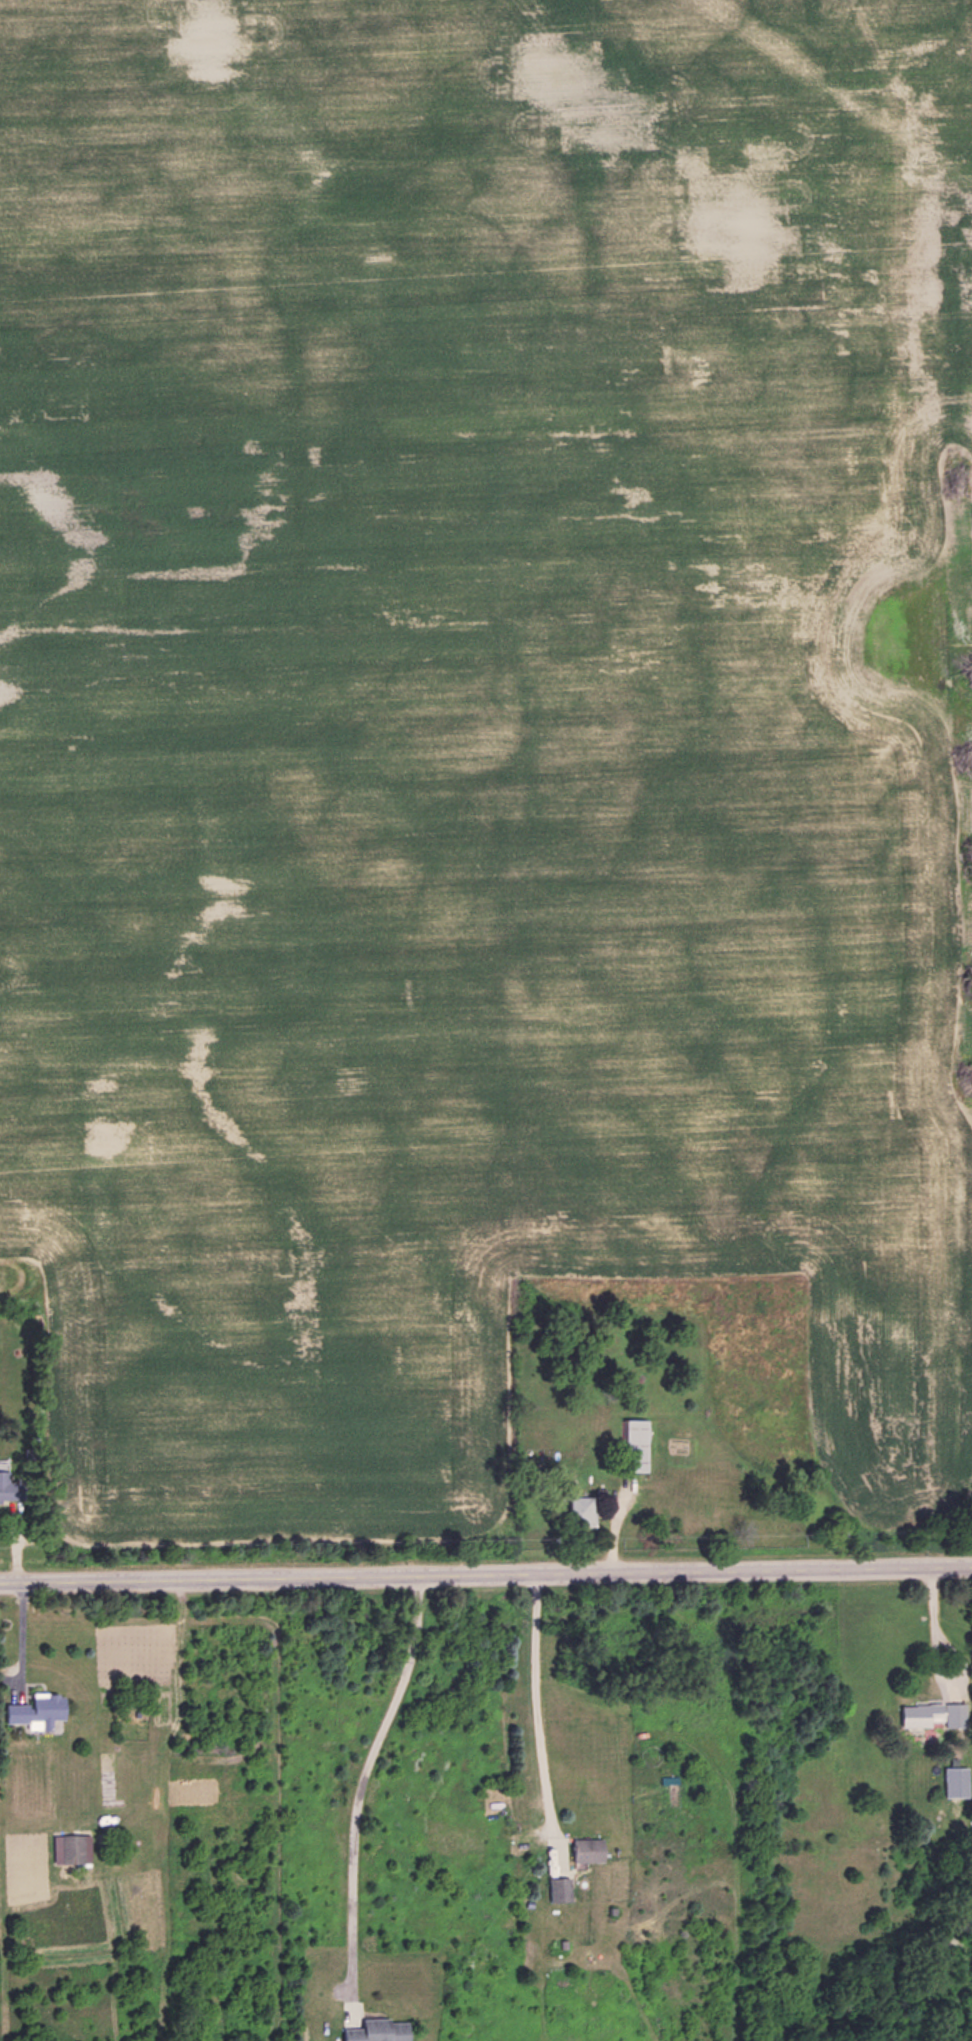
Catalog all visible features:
building: (633, 1446)
building: (29, 1454)
building: (10, 1488)
building: (577, 1512)
road: (614, 1526)
road: (13, 1544)
road: (486, 1574)
road: (933, 1634)
road: (20, 1641)
road: (274, 1708)
building: (37, 1712)
building: (918, 1714)
building: (951, 1716)
road: (537, 1723)
building: (103, 1733)
road: (156, 1780)
building: (958, 1780)
road: (359, 1793)
road: (204, 1802)
building: (71, 1849)
building: (589, 1851)
road: (5, 1861)
building: (560, 1888)
road: (166, 1896)
building: (613, 1911)
building: (560, 1945)
building: (376, 2031)

